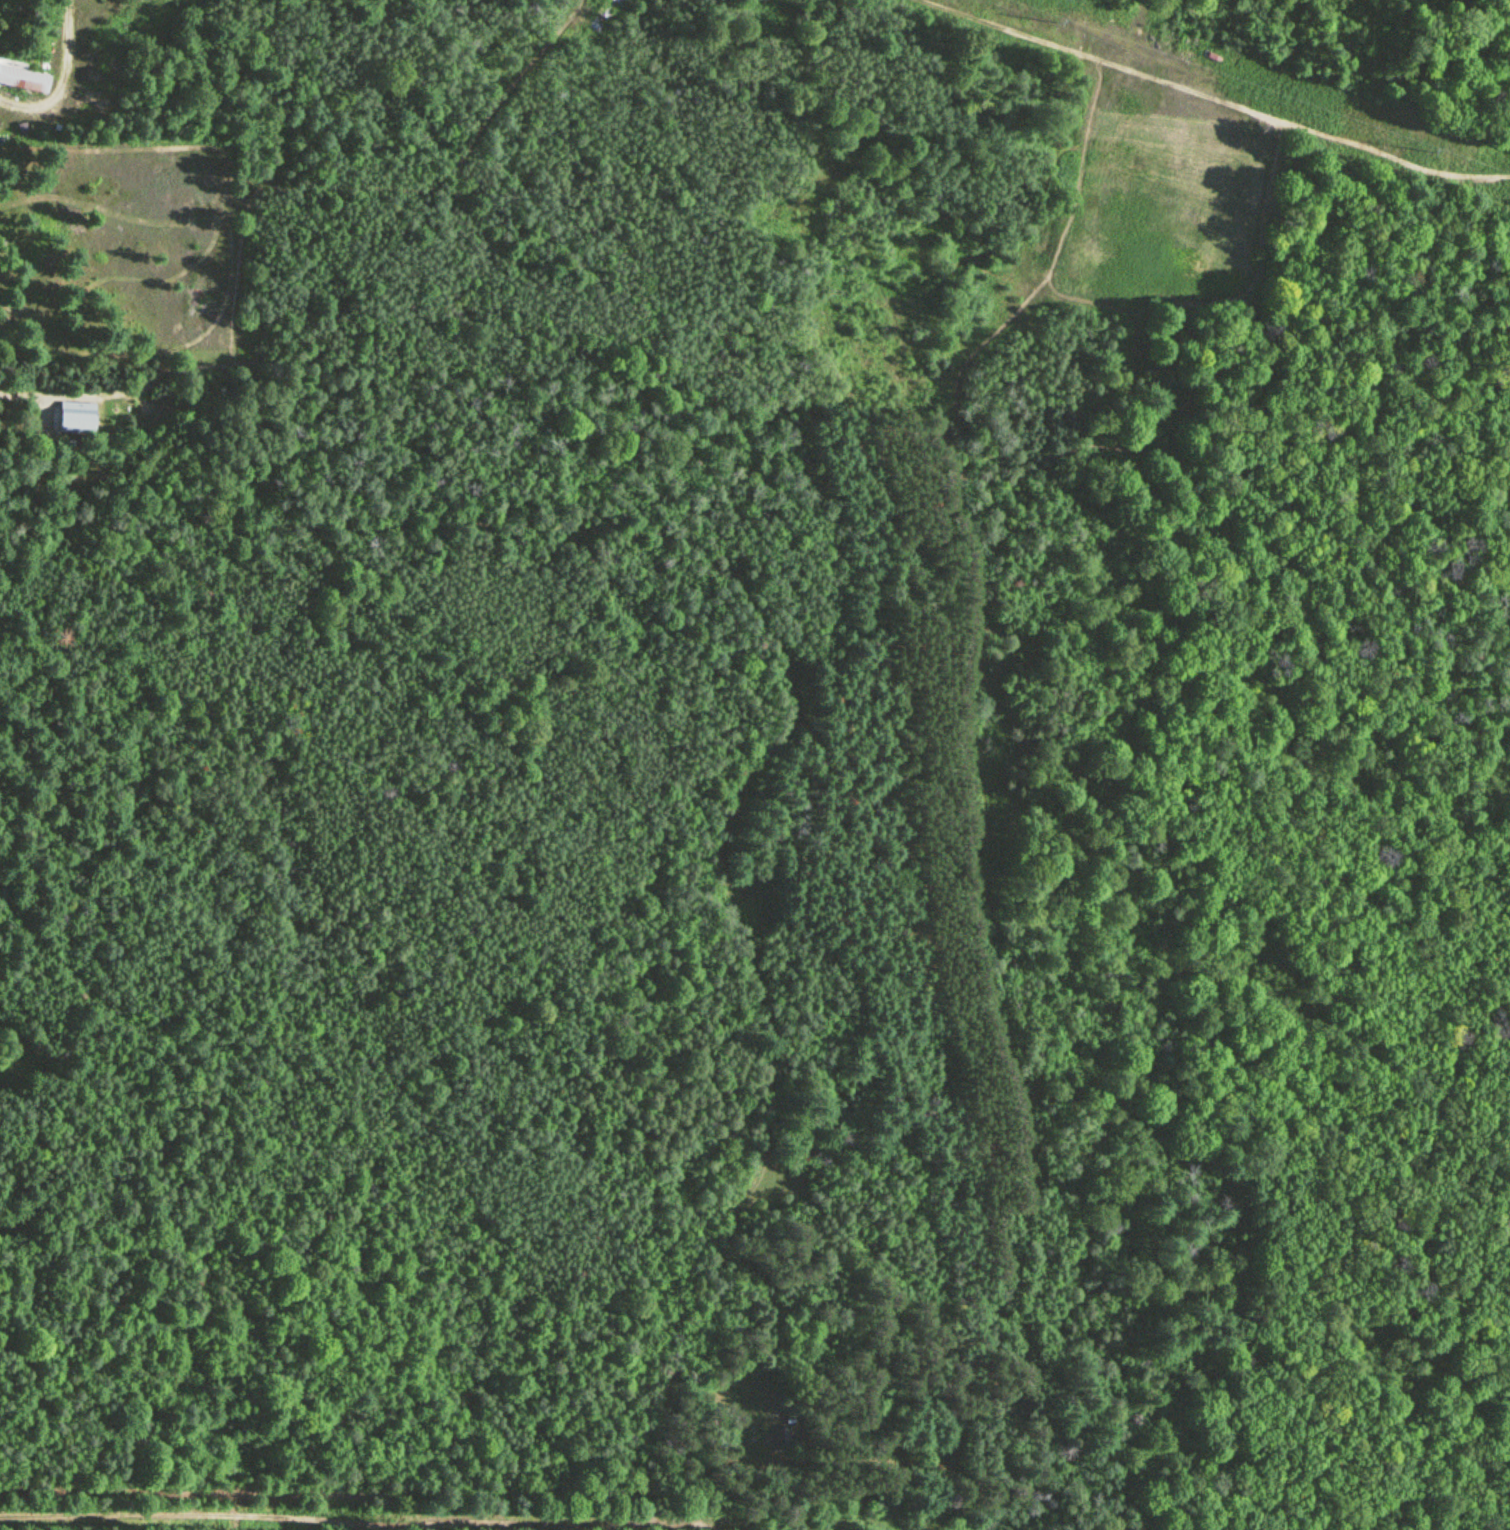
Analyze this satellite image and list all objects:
building: (24, 79)
road: (67, 81)
road: (1207, 107)
road: (391, 250)
road: (69, 396)
building: (75, 418)
road: (748, 612)
road: (382, 1352)
building: (782, 1433)
road: (353, 1523)

